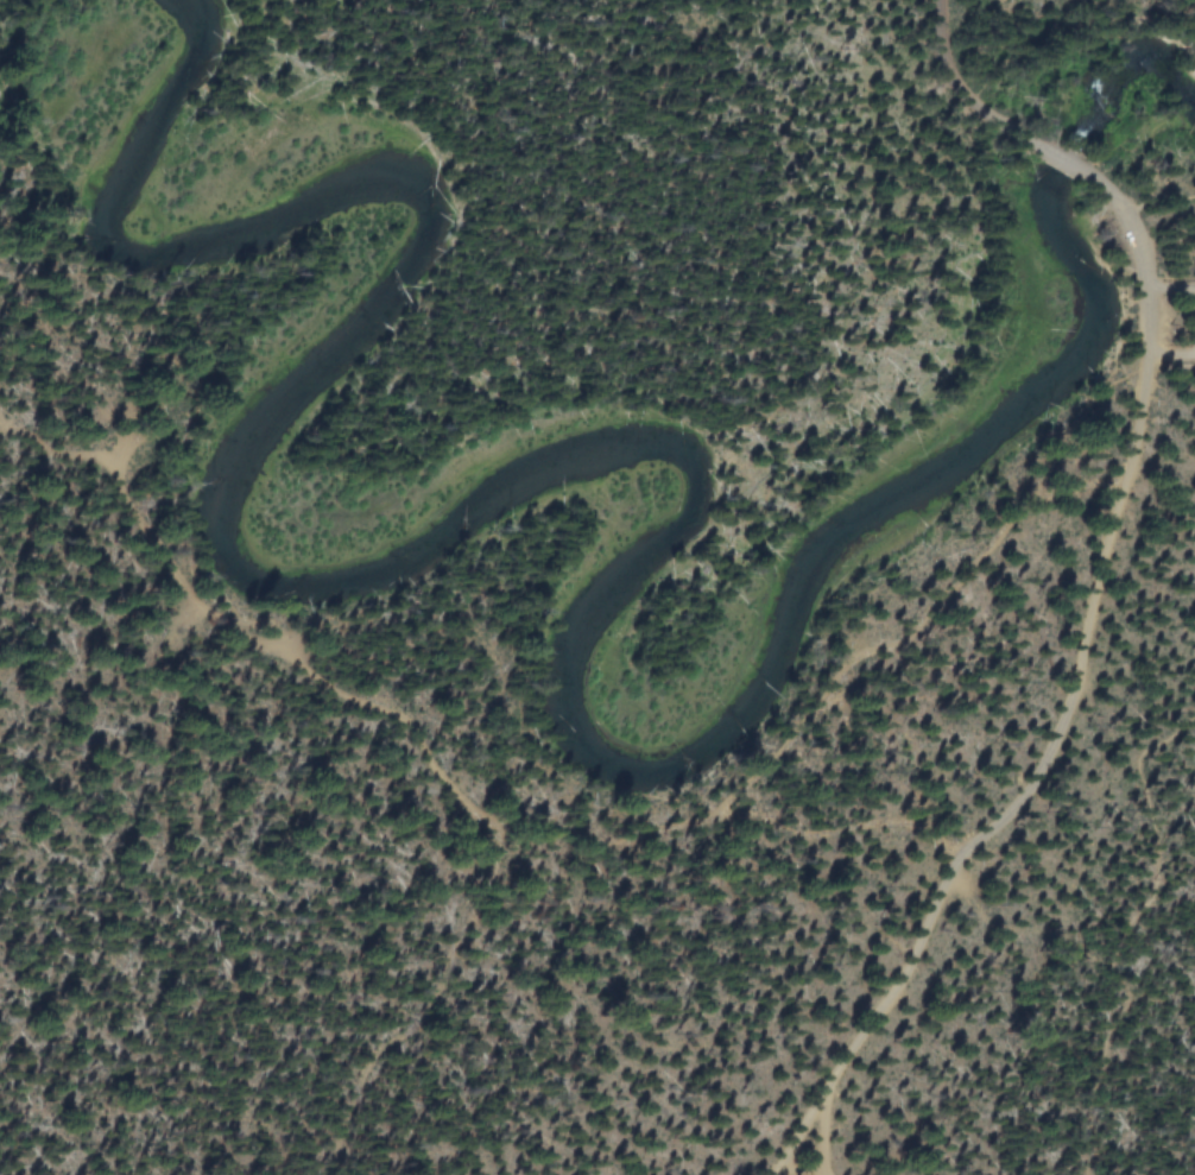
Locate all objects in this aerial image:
road: (955, 93)
road: (1067, 163)
road: (1170, 288)
road: (1171, 358)
river: (603, 475)
road: (1069, 710)
road: (448, 792)
road: (1128, 930)
road: (829, 1137)
road: (786, 1169)

